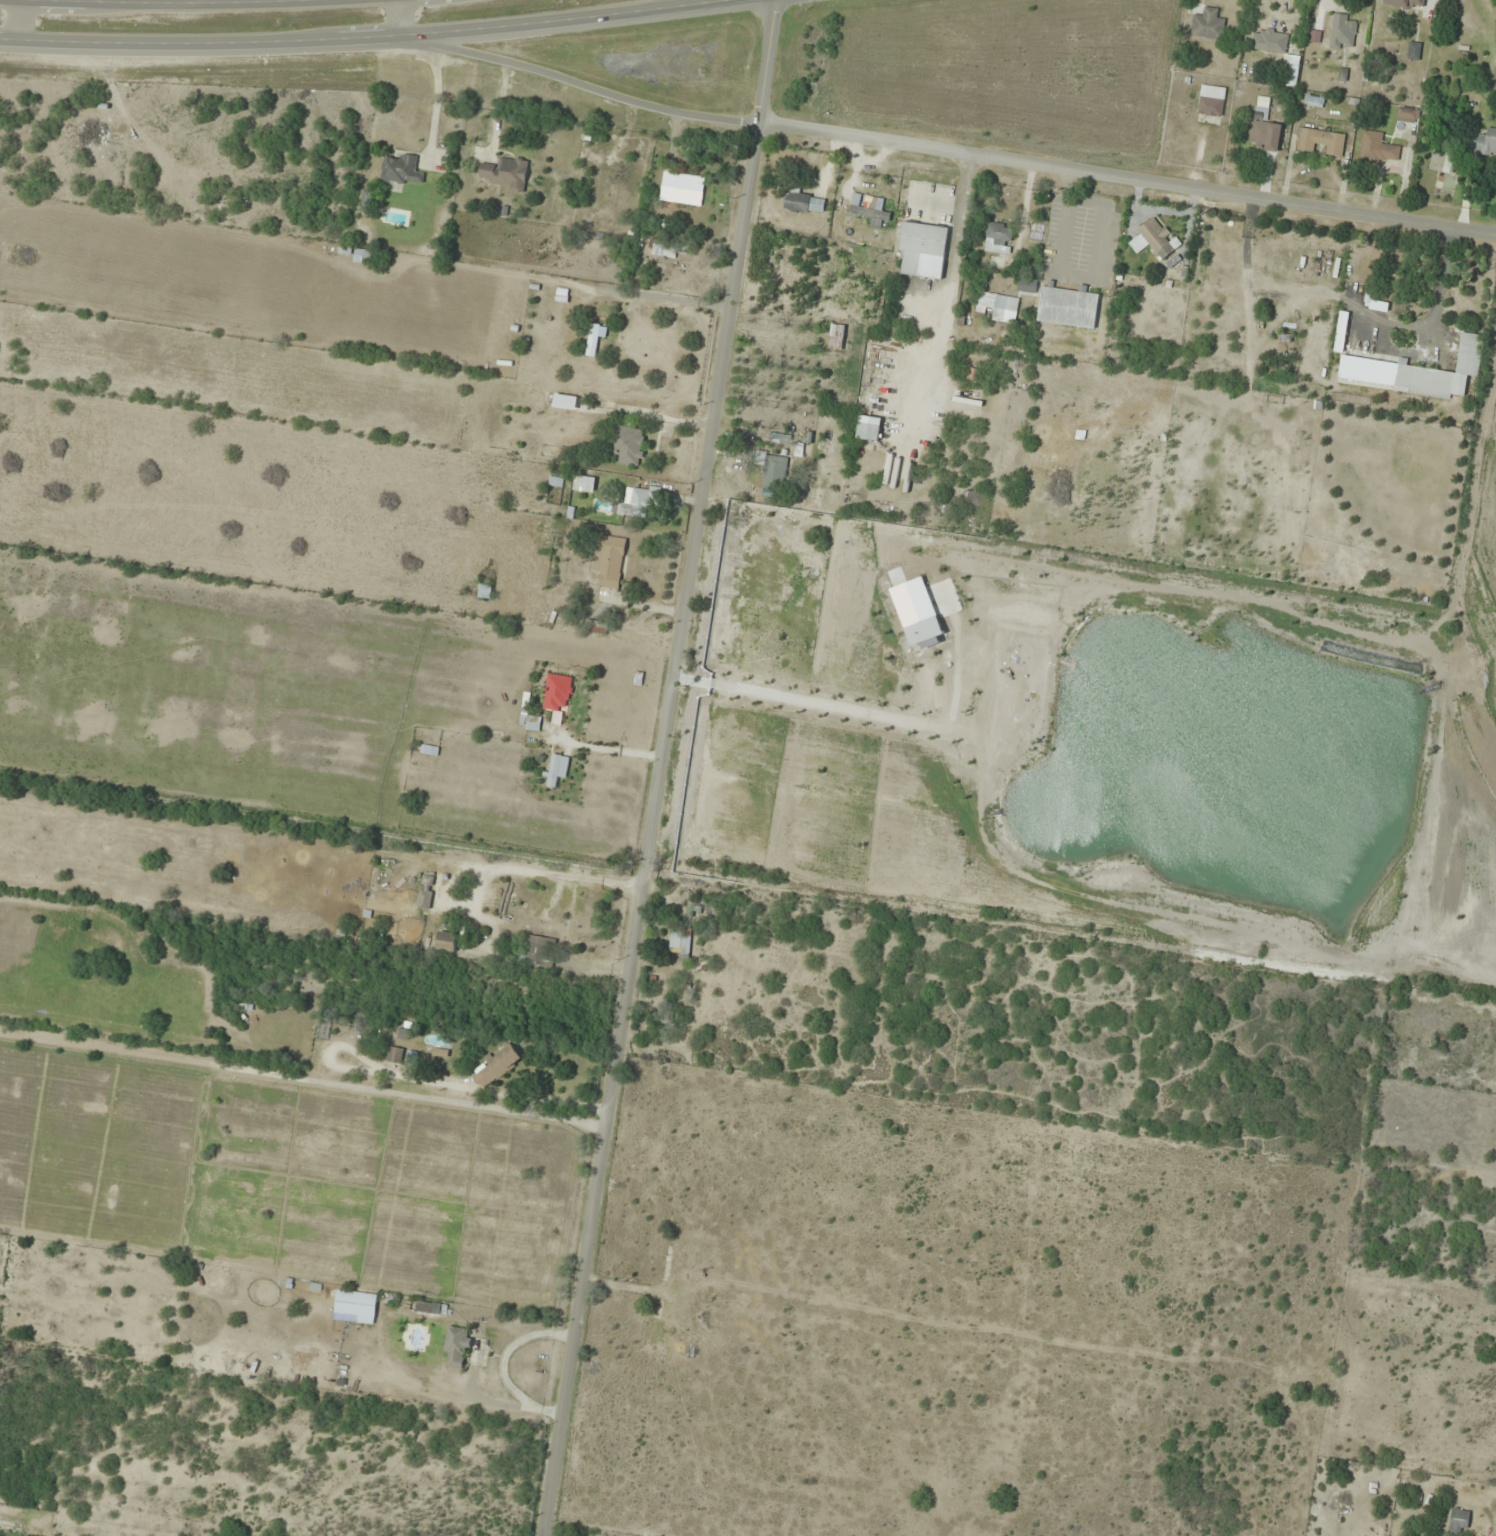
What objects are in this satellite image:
road: (165, 5)
road: (22, 23)
building: (1208, 25)
building: (1342, 32)
road: (370, 40)
building: (1269, 41)
building: (1414, 50)
building: (1290, 75)
road: (564, 82)
building: (1212, 101)
building: (1408, 115)
building: (1265, 129)
building: (1321, 141)
building: (1488, 142)
building: (1378, 149)
building: (1443, 161)
building: (402, 171)
building: (507, 174)
road: (1128, 179)
building: (681, 187)
building: (606, 192)
building: (367, 202)
building: (804, 202)
building: (869, 211)
building: (999, 238)
building: (1157, 239)
building: (666, 250)
building: (924, 251)
building: (362, 256)
building: (1027, 286)
building: (997, 306)
building: (1068, 308)
building: (837, 337)
building: (595, 339)
building: (1442, 374)
building: (869, 429)
building: (628, 446)
building: (766, 465)
building: (585, 484)
building: (635, 502)
building: (610, 561)
building: (598, 628)
building: (558, 693)
building: (530, 722)
building: (429, 751)
road: (665, 767)
building: (556, 770)
building: (507, 898)
building: (425, 900)
building: (446, 942)
building: (681, 942)
building: (542, 952)
building: (395, 1056)
building: (431, 1307)
building: (353, 1308)
building: (457, 1348)
building: (1459, 1522)

